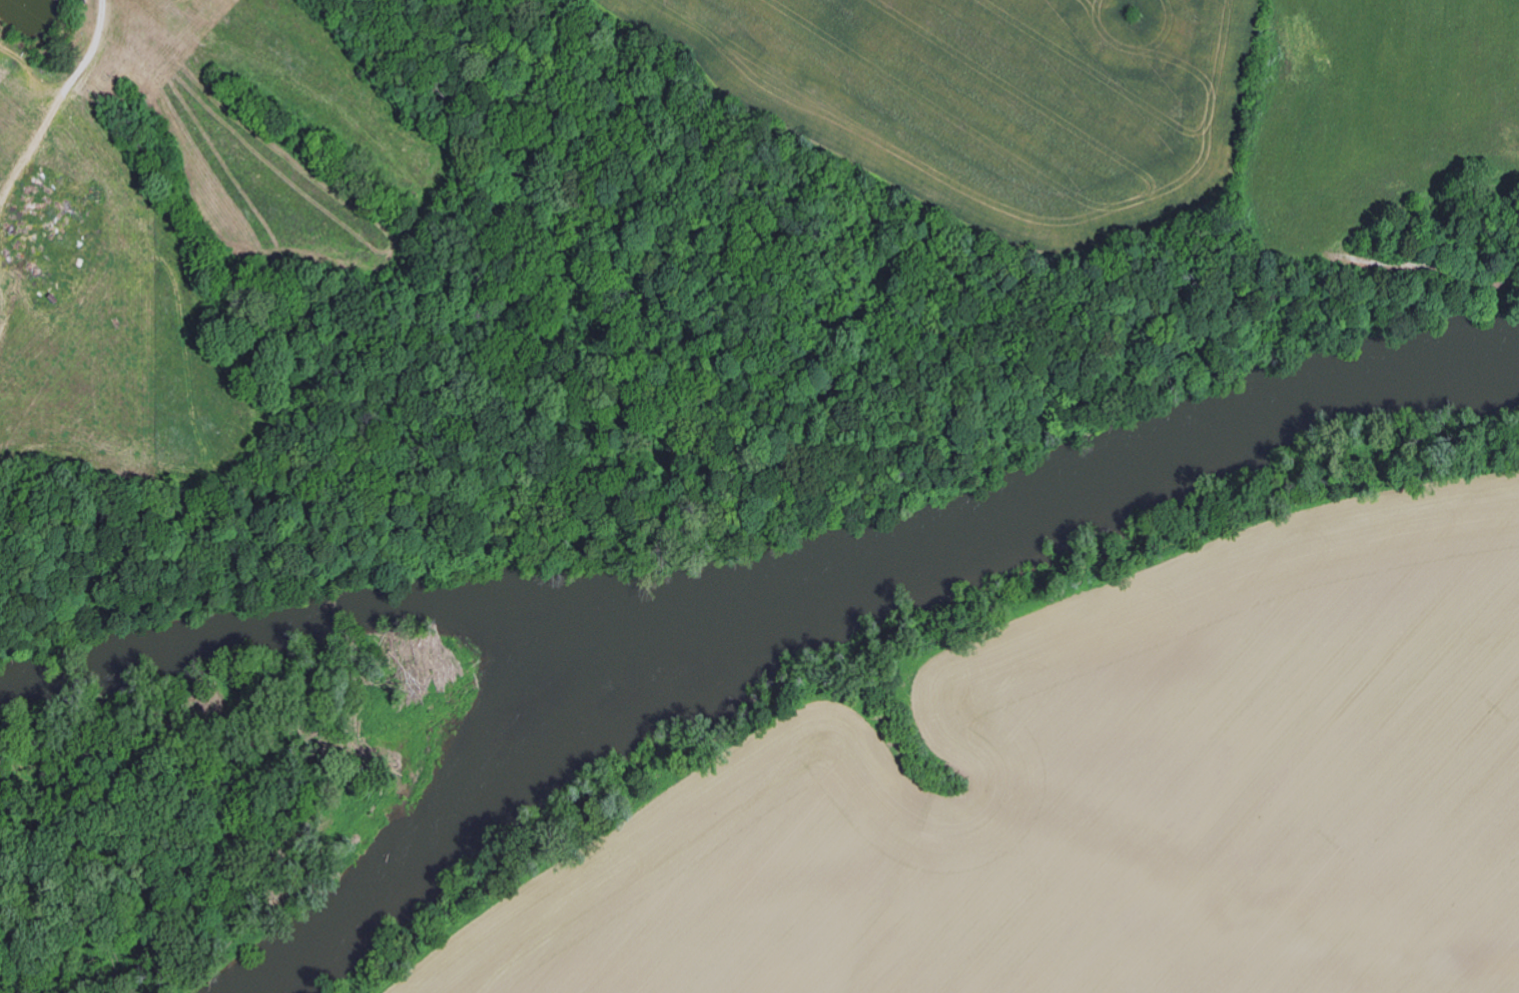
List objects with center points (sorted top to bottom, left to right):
river: (770, 608)

